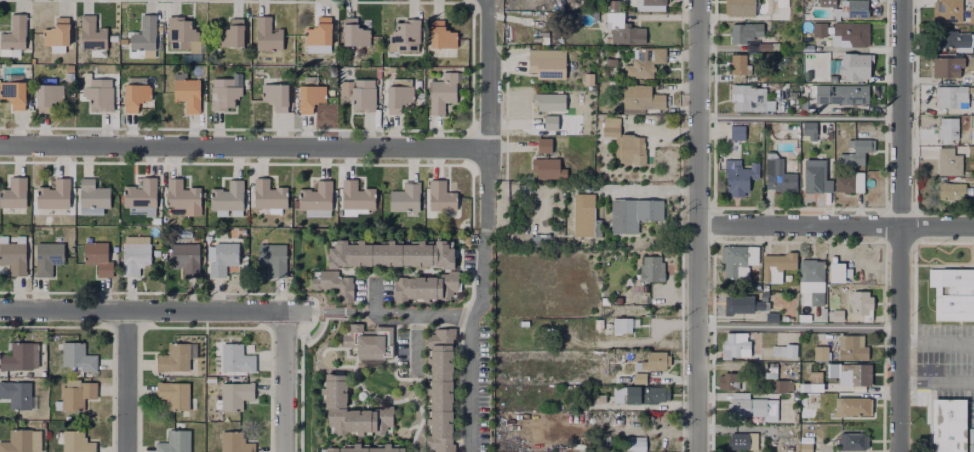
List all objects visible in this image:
building: (828, 3)
building: (650, 5)
building: (739, 9)
building: (780, 9)
building: (852, 10)
building: (948, 11)
building: (972, 16)
building: (619, 29)
building: (818, 30)
building: (57, 33)
building: (745, 33)
building: (852, 33)
building: (15, 34)
building: (92, 34)
building: (145, 35)
building: (183, 35)
building: (232, 35)
building: (320, 35)
building: (356, 35)
building: (267, 36)
building: (406, 36)
building: (442, 37)
building: (954, 41)
building: (9, 52)
building: (644, 63)
building: (545, 64)
building: (739, 65)
building: (852, 67)
building: (947, 68)
road: (489, 89)
building: (136, 93)
building: (188, 93)
building: (99, 94)
building: (442, 94)
building: (13, 95)
building: (48, 95)
building: (277, 95)
building: (311, 95)
building: (361, 95)
building: (226, 96)
building: (399, 96)
building: (838, 96)
building: (793, 97)
building: (643, 98)
building: (951, 98)
building: (746, 99)
building: (550, 102)
road: (799, 117)
building: (551, 124)
building: (612, 128)
building: (810, 130)
building: (948, 132)
building: (738, 133)
building: (972, 137)
road: (244, 143)
building: (545, 147)
building: (630, 148)
building: (861, 154)
building: (950, 163)
building: (549, 170)
building: (779, 176)
building: (816, 177)
building: (742, 182)
building: (850, 184)
building: (972, 187)
road: (650, 189)
building: (953, 192)
building: (14, 194)
building: (54, 196)
building: (93, 196)
building: (269, 196)
building: (142, 197)
building: (228, 197)
building: (183, 198)
building: (357, 198)
building: (441, 198)
building: (406, 199)
building: (315, 201)
road: (485, 204)
building: (354, 212)
building: (632, 212)
building: (584, 216)
road: (697, 225)
road: (835, 226)
road: (900, 226)
building: (135, 240)
building: (390, 251)
building: (13, 256)
building: (98, 258)
building: (135, 258)
building: (737, 258)
building: (48, 259)
building: (187, 259)
building: (273, 259)
building: (223, 260)
building: (775, 265)
building: (835, 269)
building: (653, 270)
road: (481, 272)
building: (332, 280)
building: (809, 280)
building: (423, 284)
building: (952, 290)
road: (375, 297)
building: (860, 302)
building: (740, 305)
road: (330, 312)
building: (822, 313)
road: (153, 314)
building: (837, 315)
building: (803, 318)
road: (473, 322)
building: (613, 327)
road: (799, 327)
building: (368, 340)
road: (415, 340)
road: (908, 341)
road: (945, 341)
building: (734, 346)
building: (851, 348)
building: (783, 351)
building: (820, 354)
building: (756, 356)
building: (20, 358)
building: (78, 359)
building: (175, 359)
building: (236, 359)
building: (654, 369)
building: (770, 370)
building: (849, 374)
building: (814, 377)
building: (728, 382)
road: (127, 383)
road: (287, 383)
road: (908, 383)
road: (944, 383)
building: (782, 386)
building: (438, 388)
building: (18, 395)
building: (174, 396)
building: (78, 397)
building: (235, 397)
building: (638, 397)
building: (335, 398)
building: (852, 407)
building: (753, 410)
building: (614, 420)
building: (949, 425)
building: (970, 440)
building: (18, 442)
building: (76, 442)
building: (175, 442)
building: (742, 442)
building: (852, 442)
building: (235, 443)
building: (608, 443)
building: (637, 445)
building: (804, 447)
building: (331, 448)
building: (370, 448)

